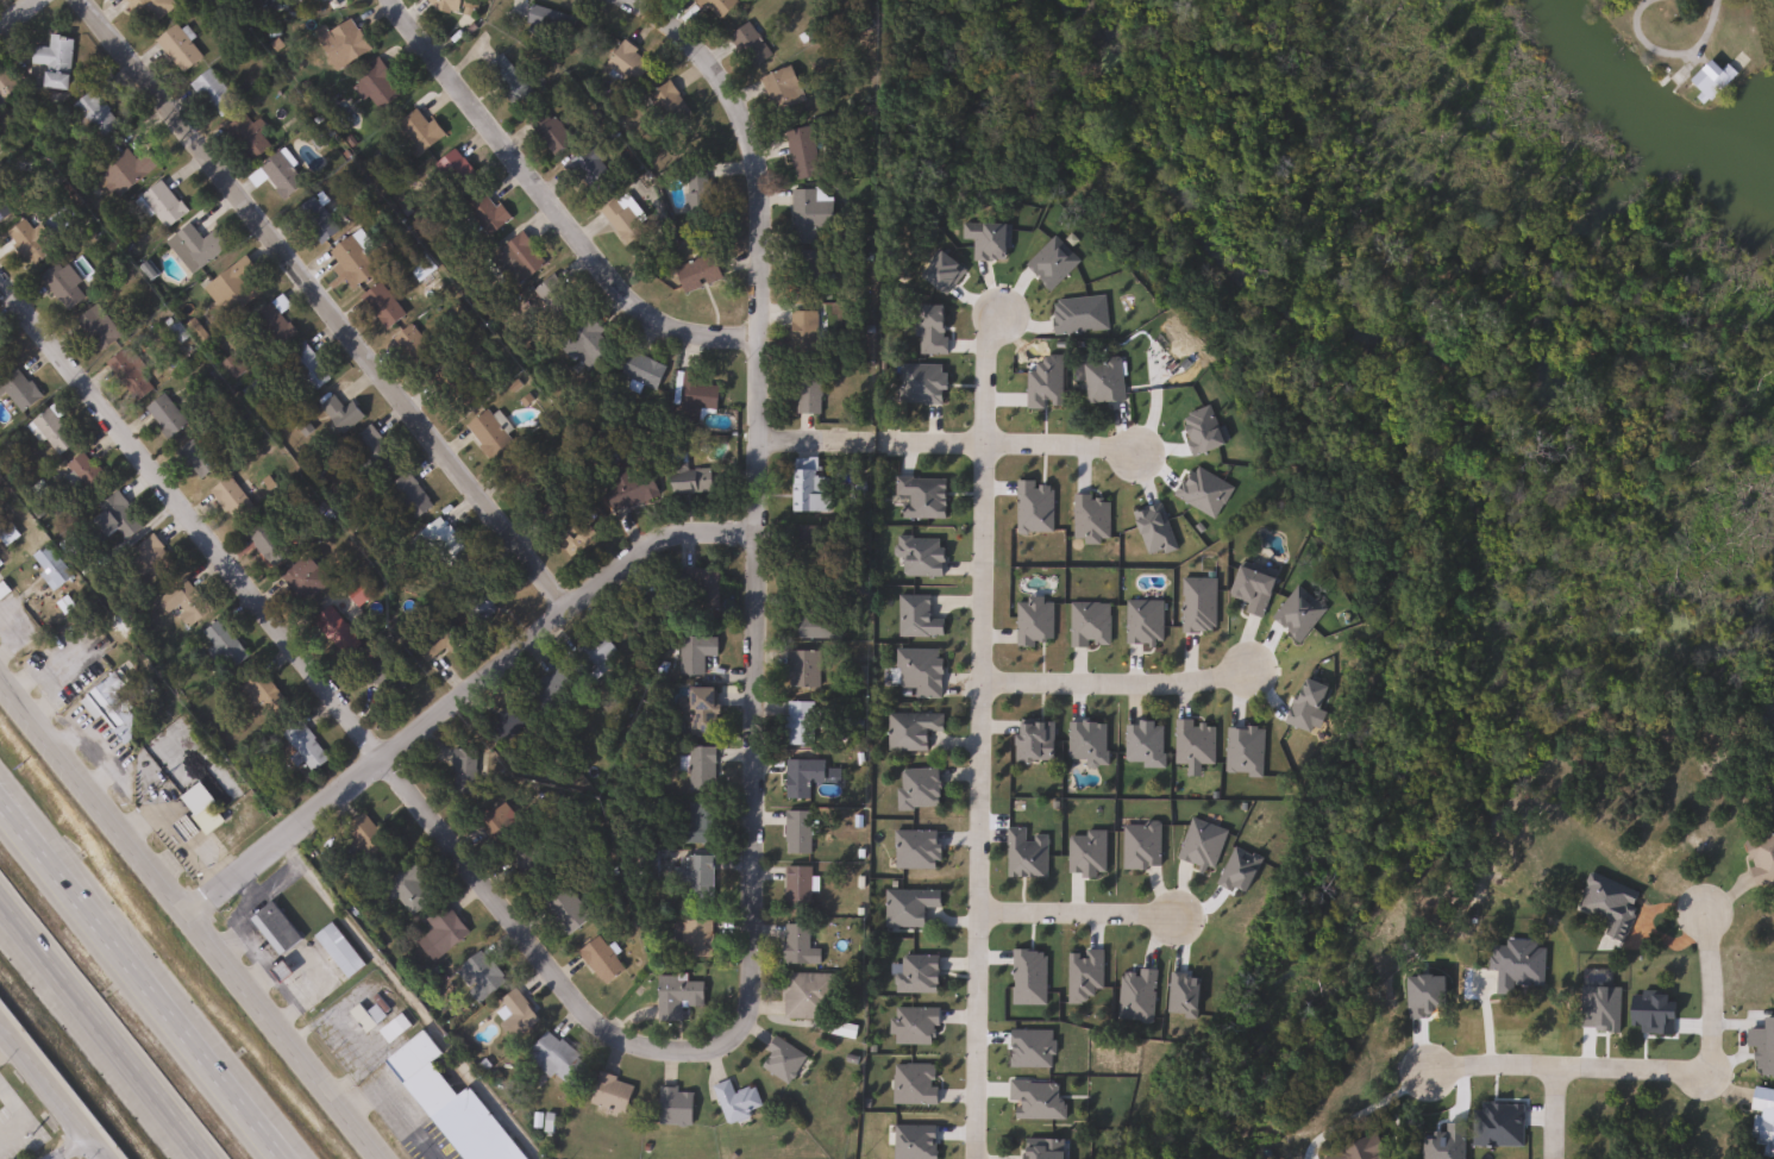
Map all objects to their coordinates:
building: (443, 2)
building: (715, 7)
building: (146, 10)
road: (18, 13)
building: (547, 23)
building: (337, 43)
building: (747, 45)
building: (175, 49)
road: (1670, 55)
building: (51, 62)
building: (626, 62)
building: (504, 80)
building: (1707, 80)
building: (374, 88)
building: (6, 89)
building: (779, 89)
building: (211, 94)
building: (667, 106)
building: (93, 114)
building: (414, 132)
building: (244, 137)
building: (551, 137)
building: (800, 154)
building: (588, 169)
building: (121, 171)
building: (452, 171)
building: (275, 175)
road: (552, 202)
building: (159, 205)
building: (2, 211)
building: (807, 212)
building: (484, 213)
building: (623, 219)
building: (312, 221)
building: (25, 242)
building: (194, 246)
building: (513, 261)
building: (349, 262)
building: (418, 267)
building: (805, 271)
building: (696, 272)
building: (59, 284)
building: (231, 287)
building: (552, 299)
road: (322, 302)
building: (378, 306)
building: (95, 328)
building: (267, 328)
building: (800, 337)
building: (584, 345)
building: (410, 349)
building: (1, 356)
building: (303, 368)
building: (639, 369)
building: (127, 375)
building: (1101, 381)
building: (17, 388)
building: (450, 390)
building: (803, 395)
building: (689, 396)
building: (337, 415)
building: (162, 416)
building: (50, 431)
building: (487, 433)
road: (815, 443)
road: (1005, 447)
building: (369, 453)
building: (193, 458)
building: (83, 472)
building: (687, 482)
building: (805, 488)
building: (627, 494)
building: (407, 496)
building: (226, 497)
building: (920, 497)
road: (756, 501)
building: (112, 516)
building: (563, 538)
building: (263, 541)
building: (440, 543)
building: (802, 550)
building: (150, 563)
building: (48, 566)
building: (301, 578)
building: (1248, 588)
building: (702, 589)
building: (358, 590)
building: (479, 600)
building: (181, 602)
building: (813, 618)
building: (333, 631)
building: (220, 637)
building: (432, 641)
building: (691, 654)
building: (590, 657)
building: (801, 669)
building: (917, 671)
building: (378, 674)
road: (1116, 684)
building: (547, 690)
road: (456, 691)
building: (259, 693)
building: (106, 700)
road: (338, 704)
building: (698, 710)
building: (797, 723)
building: (499, 726)
building: (909, 729)
road: (980, 735)
building: (1030, 741)
building: (301, 746)
building: (698, 768)
building: (460, 771)
building: (800, 777)
building: (915, 788)
building: (198, 809)
building: (696, 822)
building: (497, 826)
building: (795, 832)
building: (364, 837)
building: (914, 850)
building: (1023, 852)
building: (1760, 859)
building: (522, 863)
building: (690, 872)
building: (795, 888)
building: (408, 889)
building: (562, 909)
road: (1078, 911)
road: (184, 921)
building: (272, 927)
building: (439, 928)
building: (687, 938)
building: (795, 944)
building: (334, 950)
building: (597, 960)
building: (914, 973)
building: (477, 976)
road: (138, 988)
road: (1710, 990)
building: (673, 995)
building: (804, 995)
road: (403, 997)
building: (514, 1013)
building: (366, 1019)
road: (1487, 1020)
building: (390, 1027)
building: (838, 1029)
road: (99, 1034)
road: (4, 1044)
building: (551, 1057)
building: (778, 1060)
road: (1562, 1065)
building: (607, 1092)
road: (50, 1095)
building: (733, 1101)
building: (450, 1104)
road: (394, 1105)
building: (671, 1105)
road: (1554, 1111)
road: (14, 1117)
building: (1761, 1121)
road: (70, 1148)
building: (1039, 1148)

